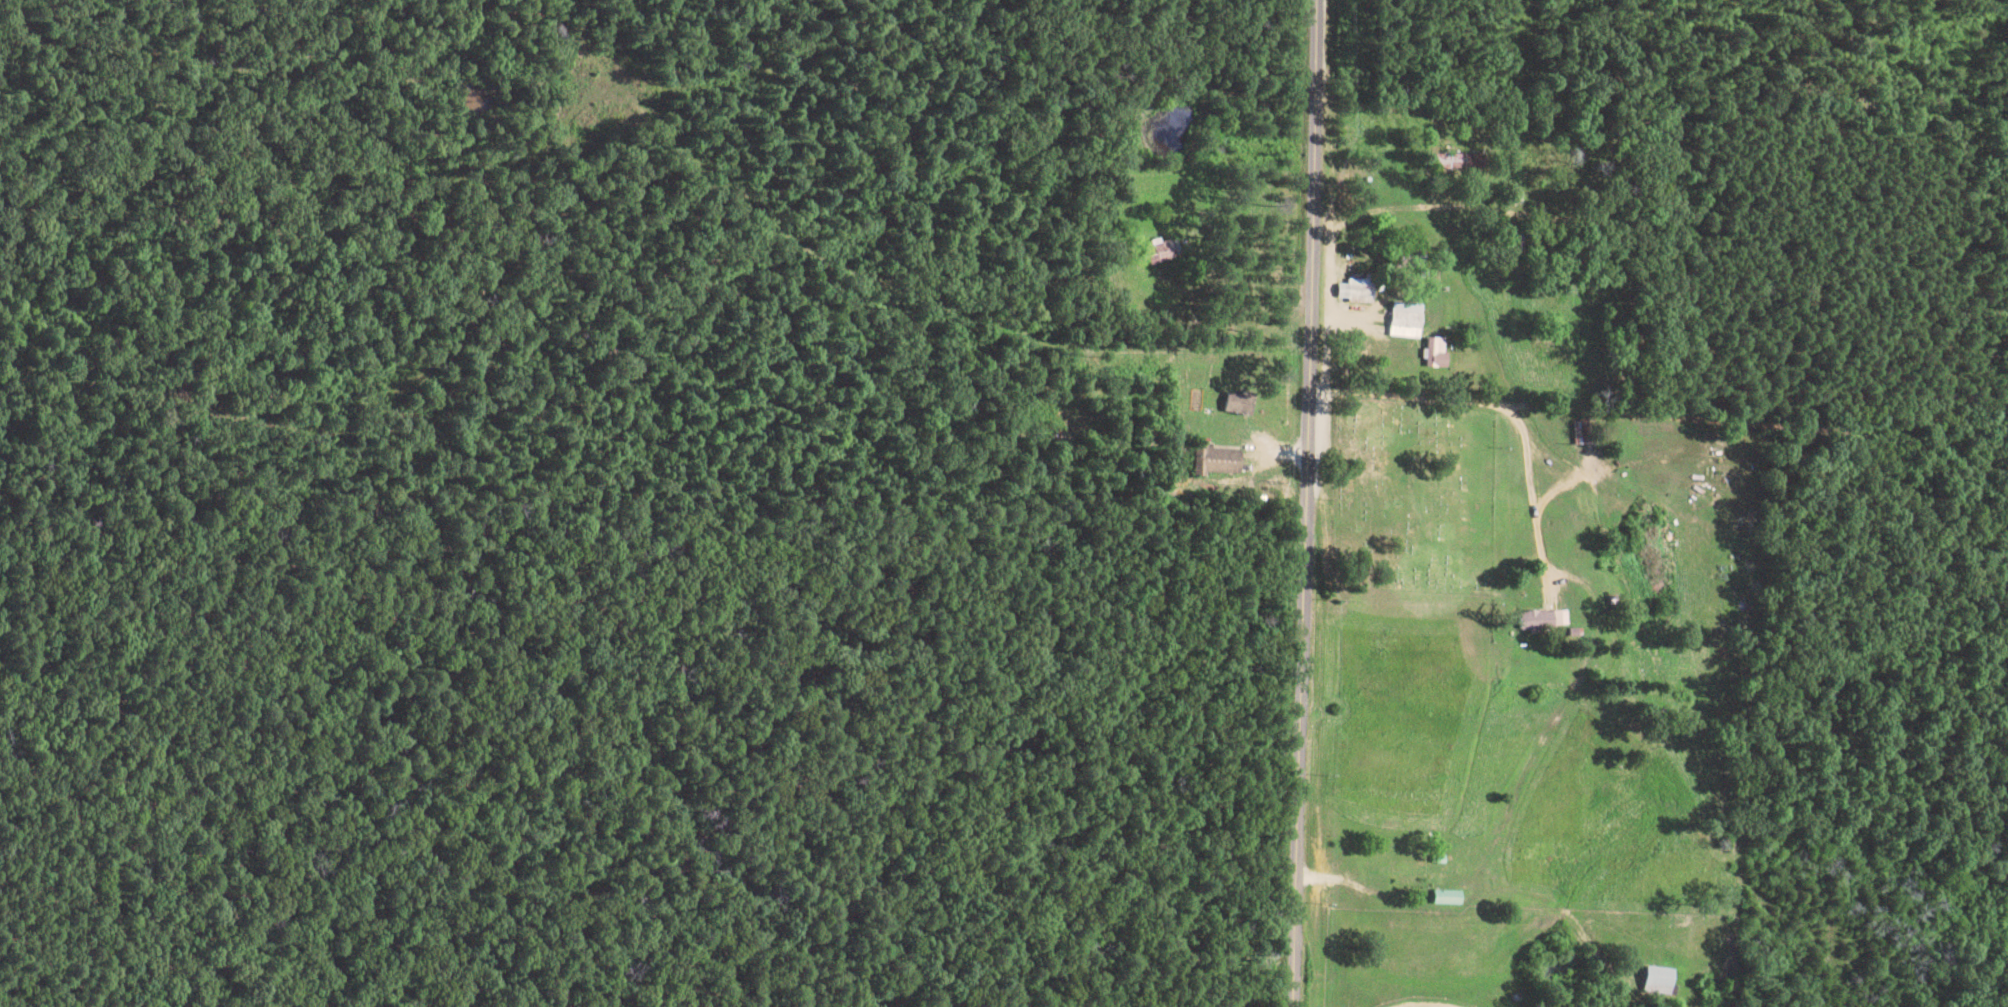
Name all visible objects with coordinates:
building: (1460, 163)
building: (1164, 253)
building: (1363, 292)
building: (1408, 322)
building: (1433, 354)
building: (1243, 403)
road: (1659, 406)
building: (1584, 434)
building: (1231, 460)
park: (1410, 499)
road: (1306, 503)
building: (1543, 620)
building: (1450, 898)
building: (1663, 982)

